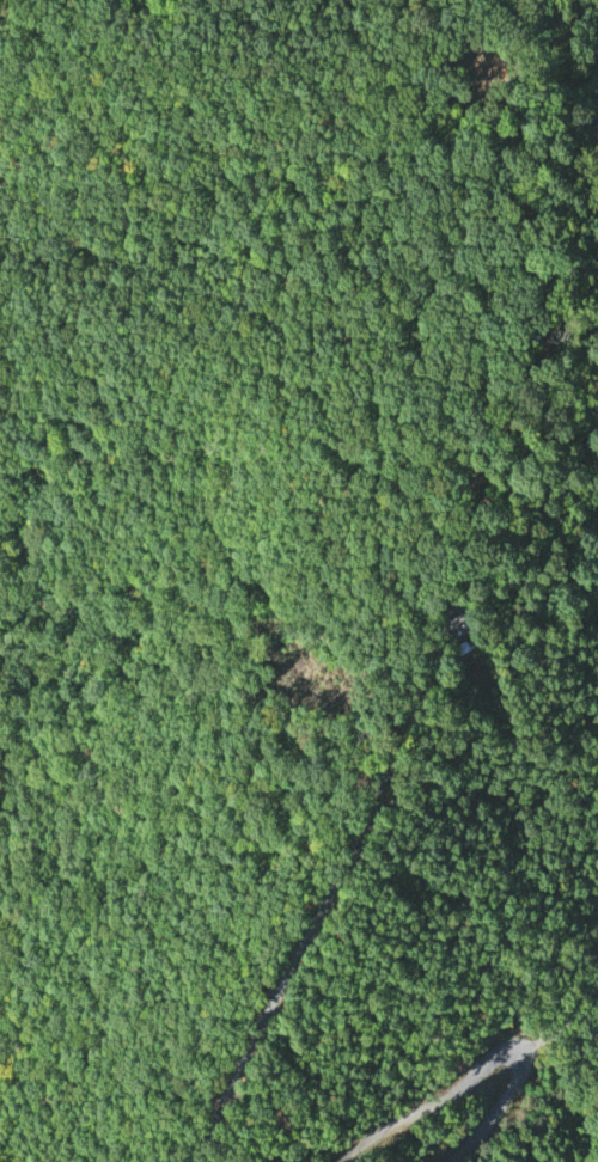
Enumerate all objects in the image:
road: (329, 891)
road: (487, 1064)

